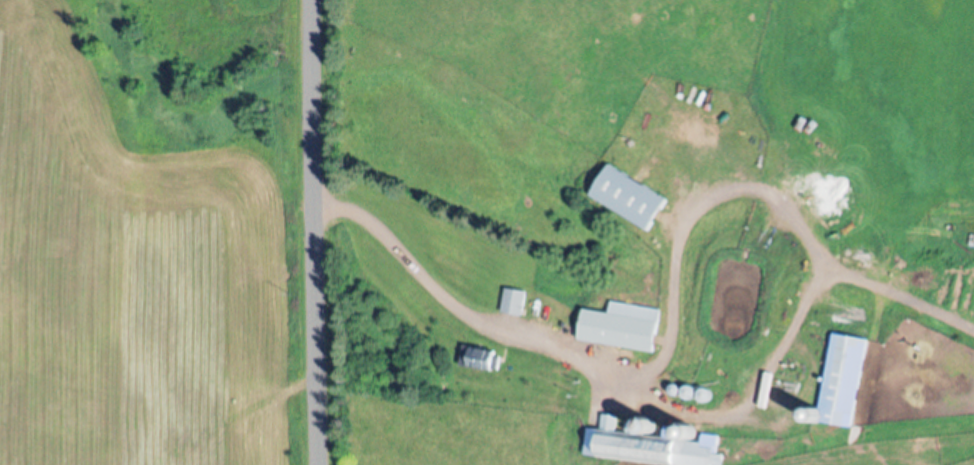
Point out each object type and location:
building: (635, 200)
road: (316, 232)
building: (517, 303)
building: (625, 328)
building: (484, 359)
building: (843, 383)
building: (786, 399)
building: (654, 445)

